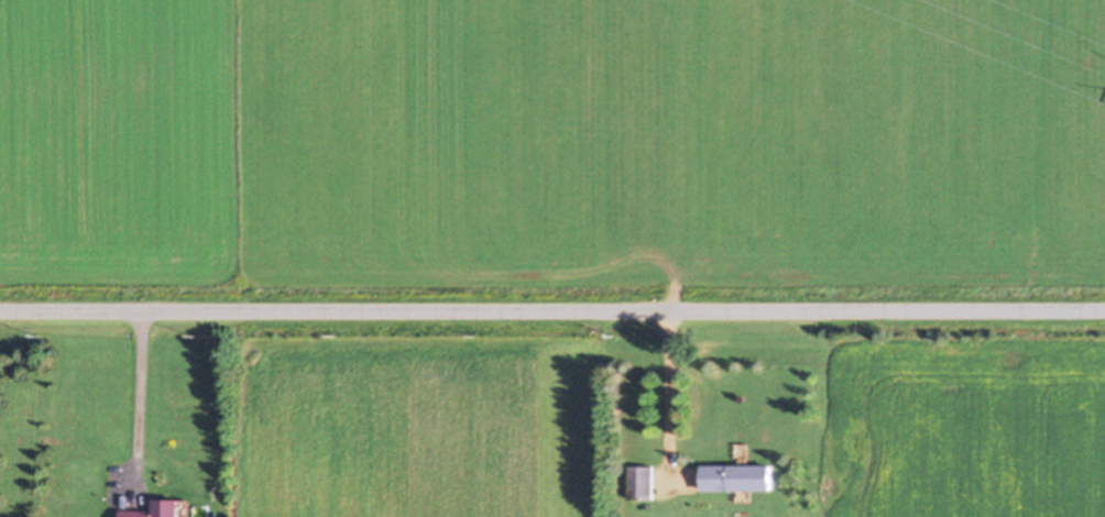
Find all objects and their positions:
road: (552, 309)
building: (736, 475)
building: (641, 481)
building: (154, 508)

